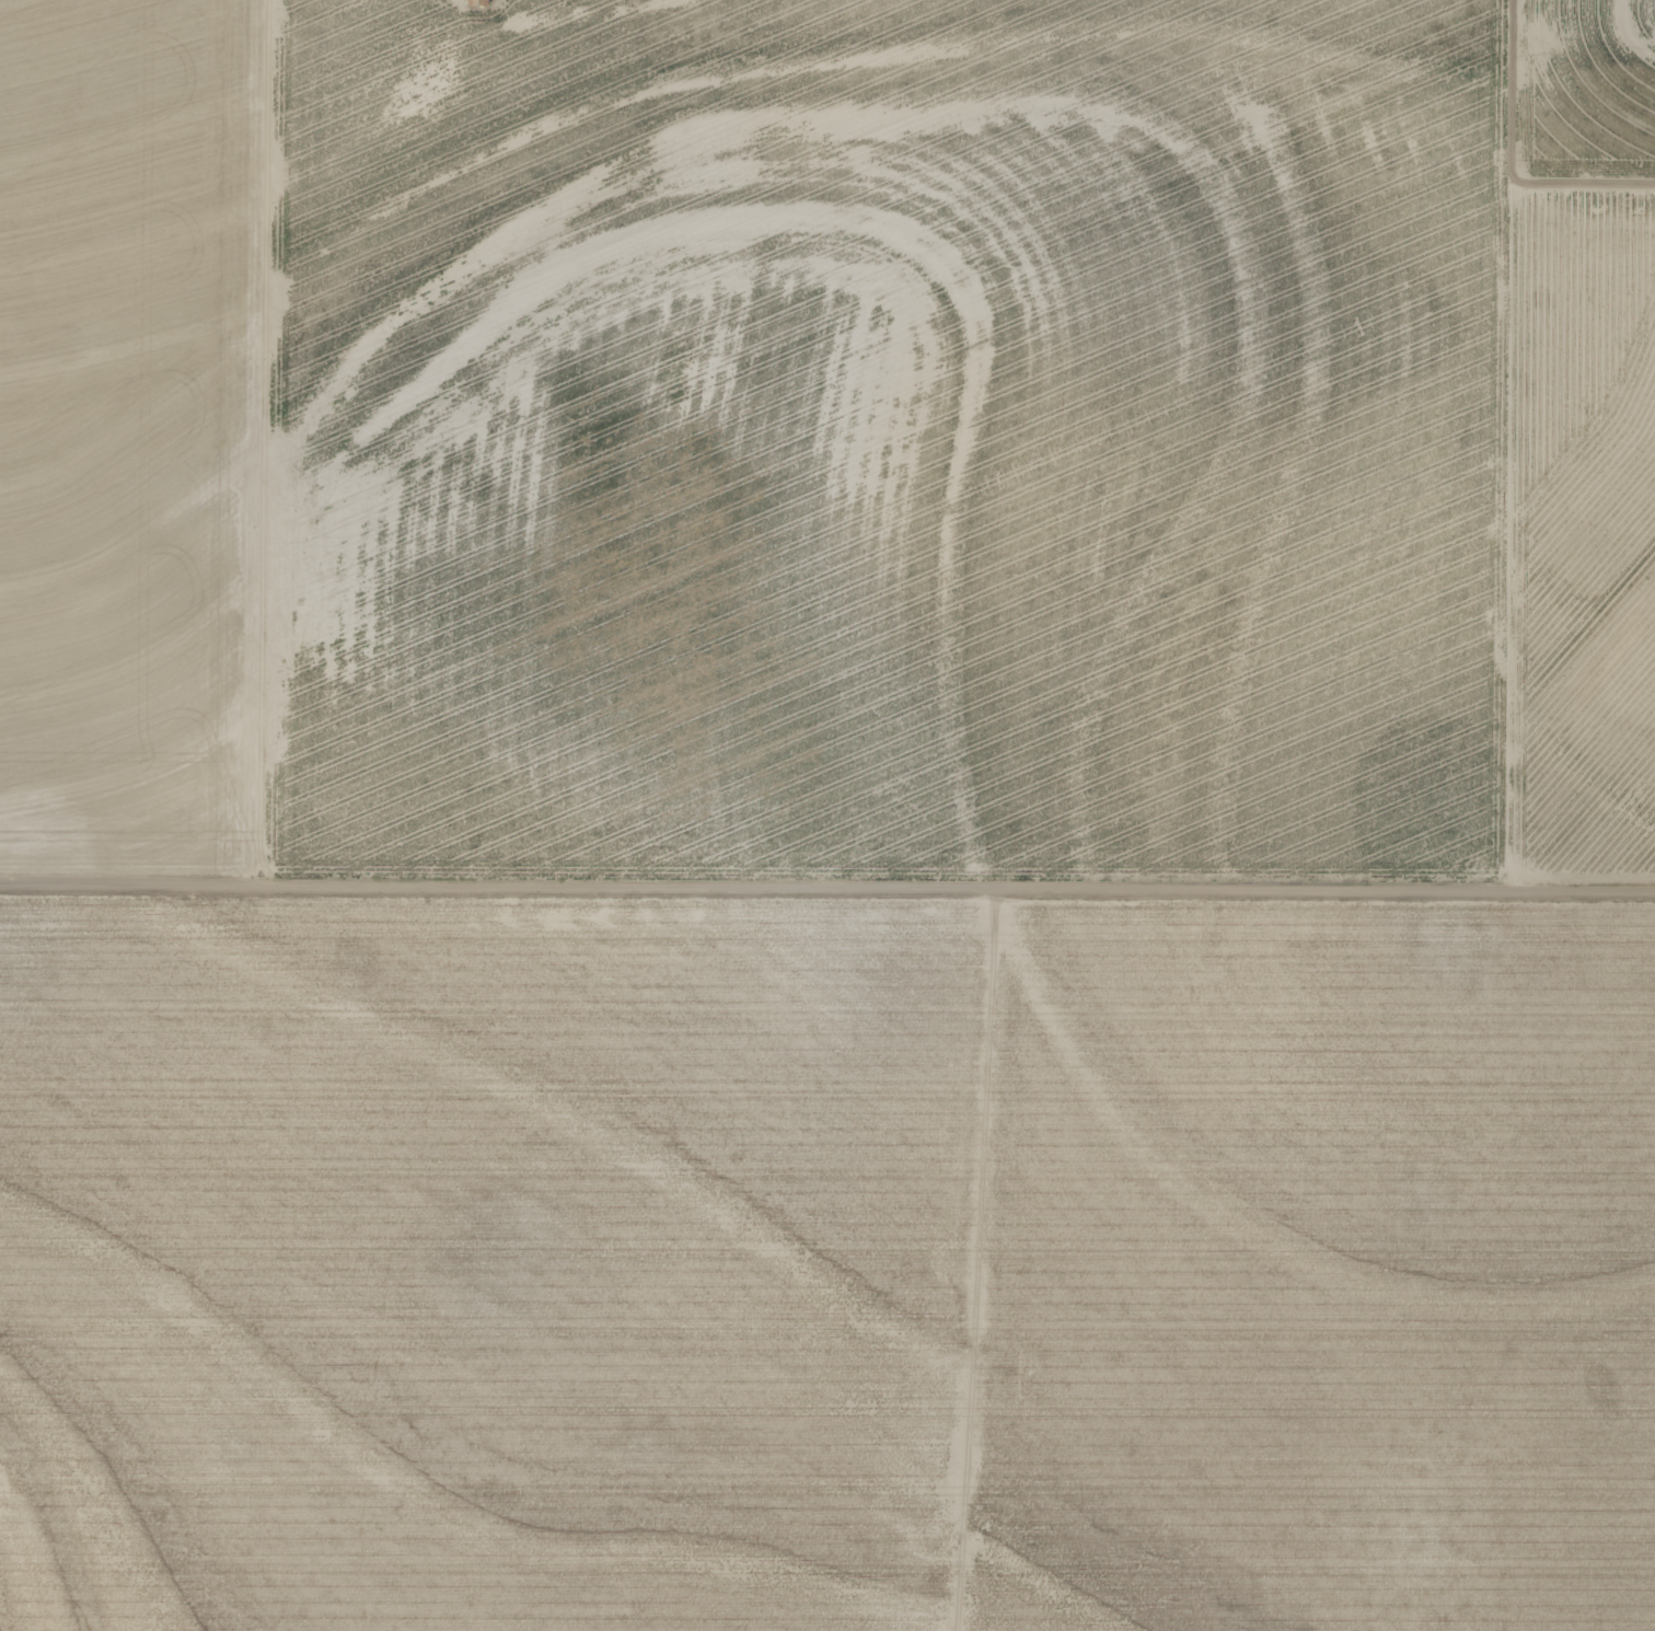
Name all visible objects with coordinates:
road: (311, 435)
road: (826, 886)

